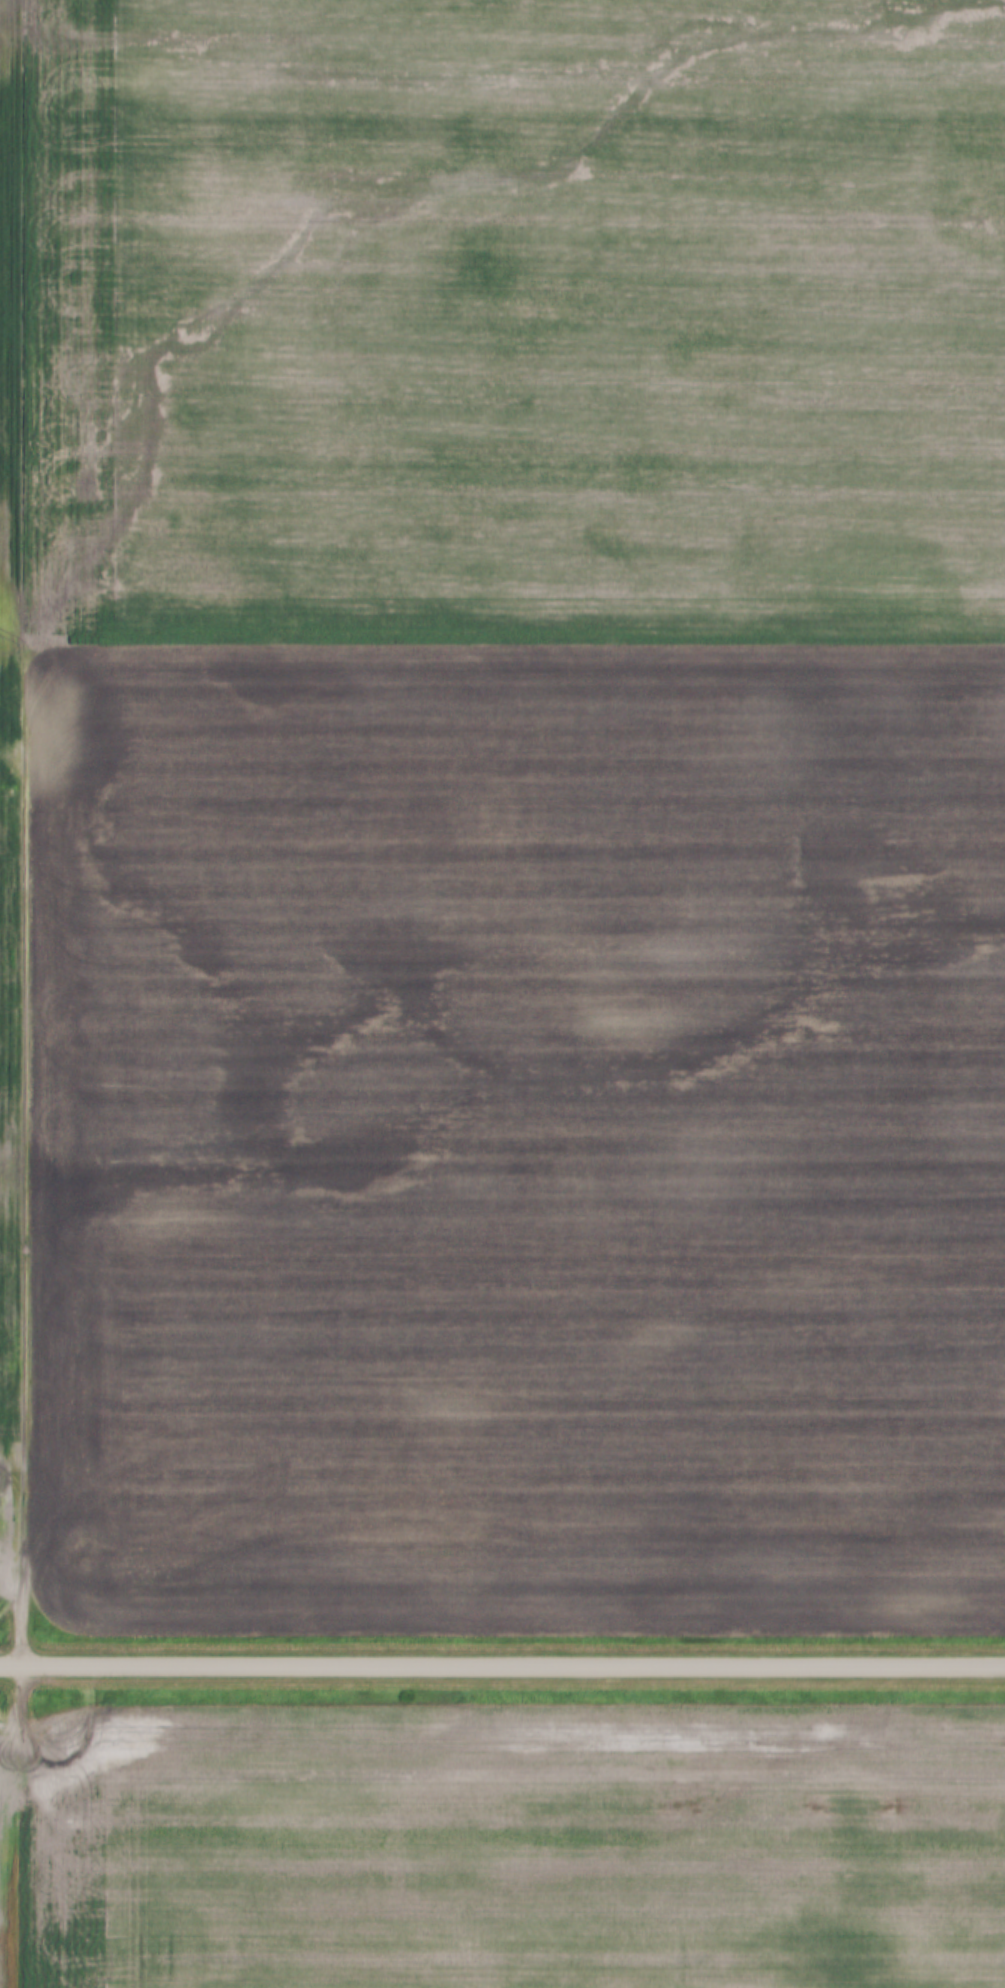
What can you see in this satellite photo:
road: (502, 1661)

